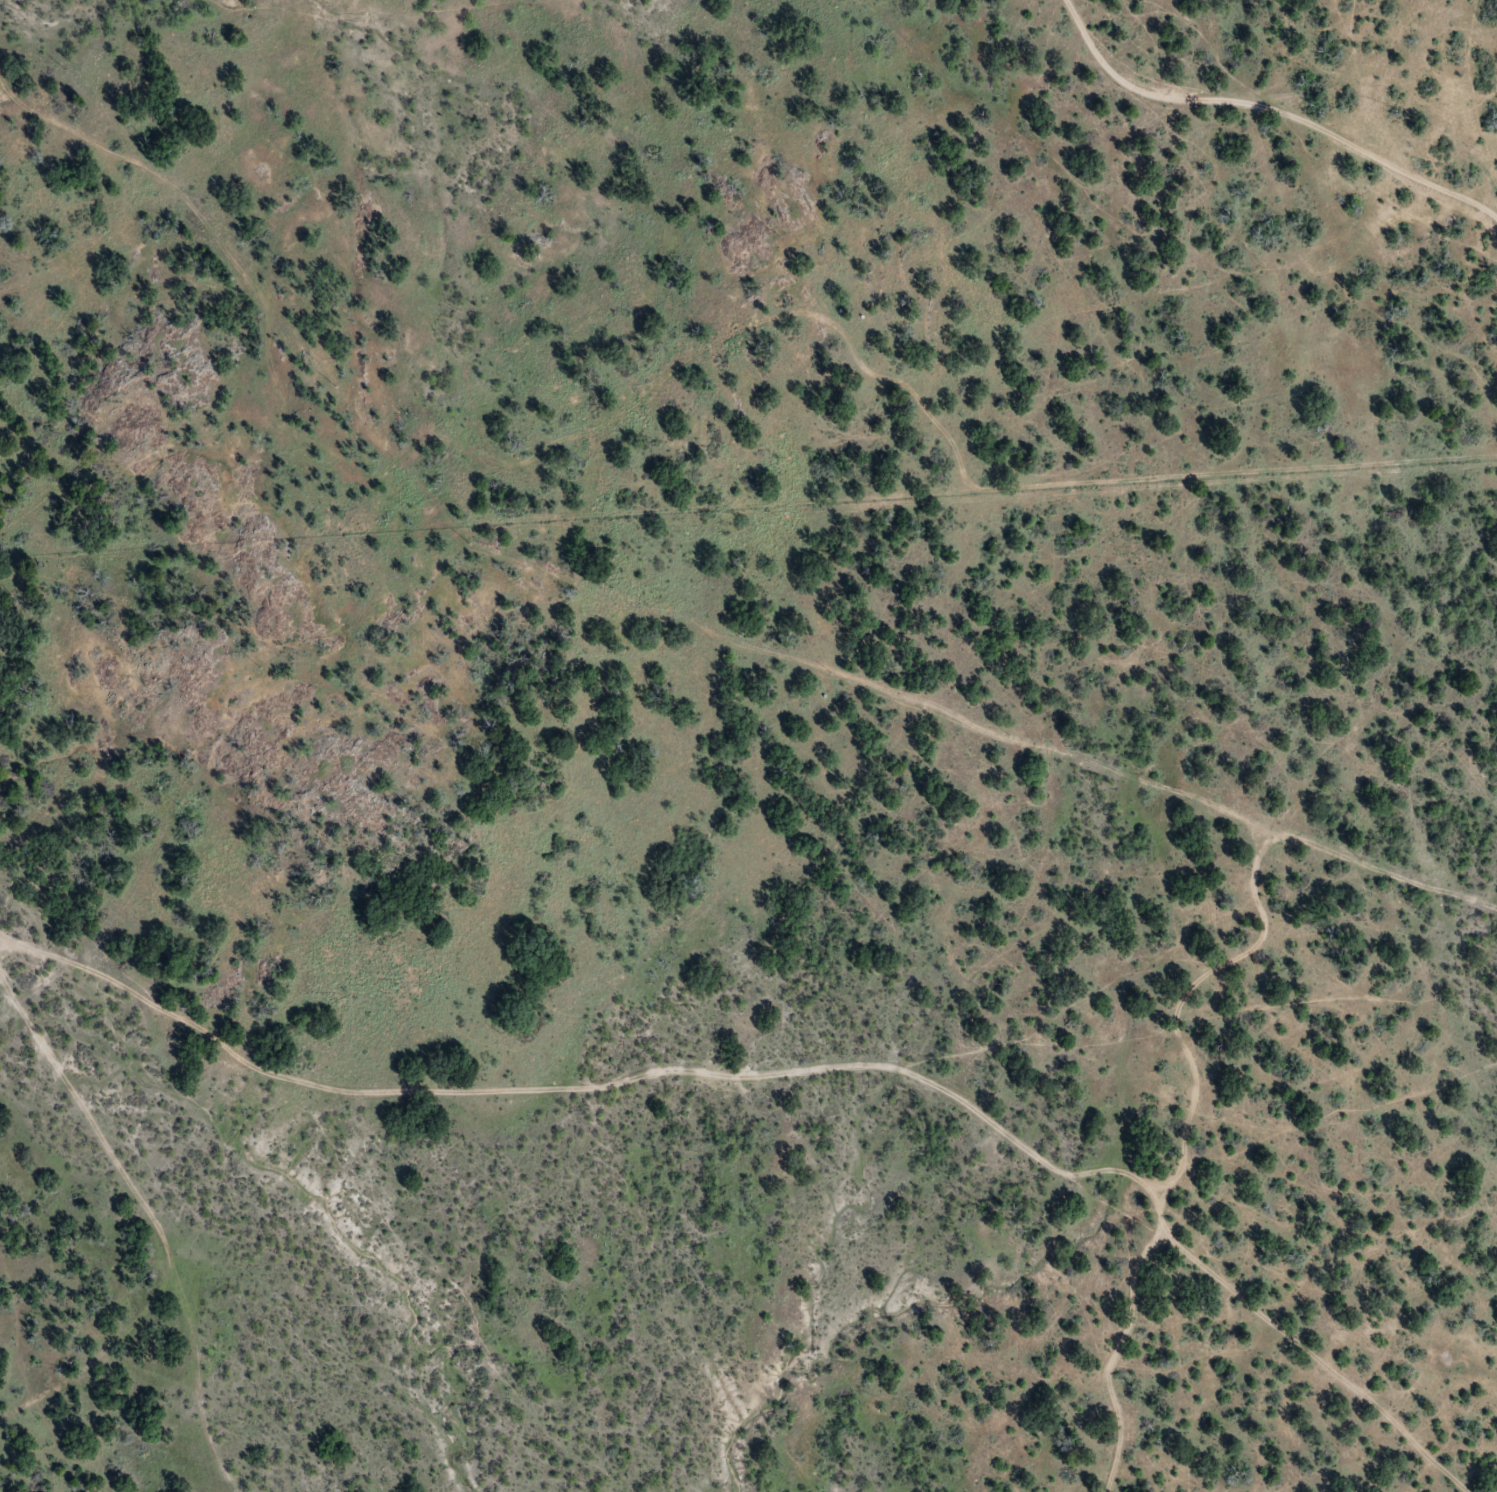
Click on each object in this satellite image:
road: (1272, 118)

